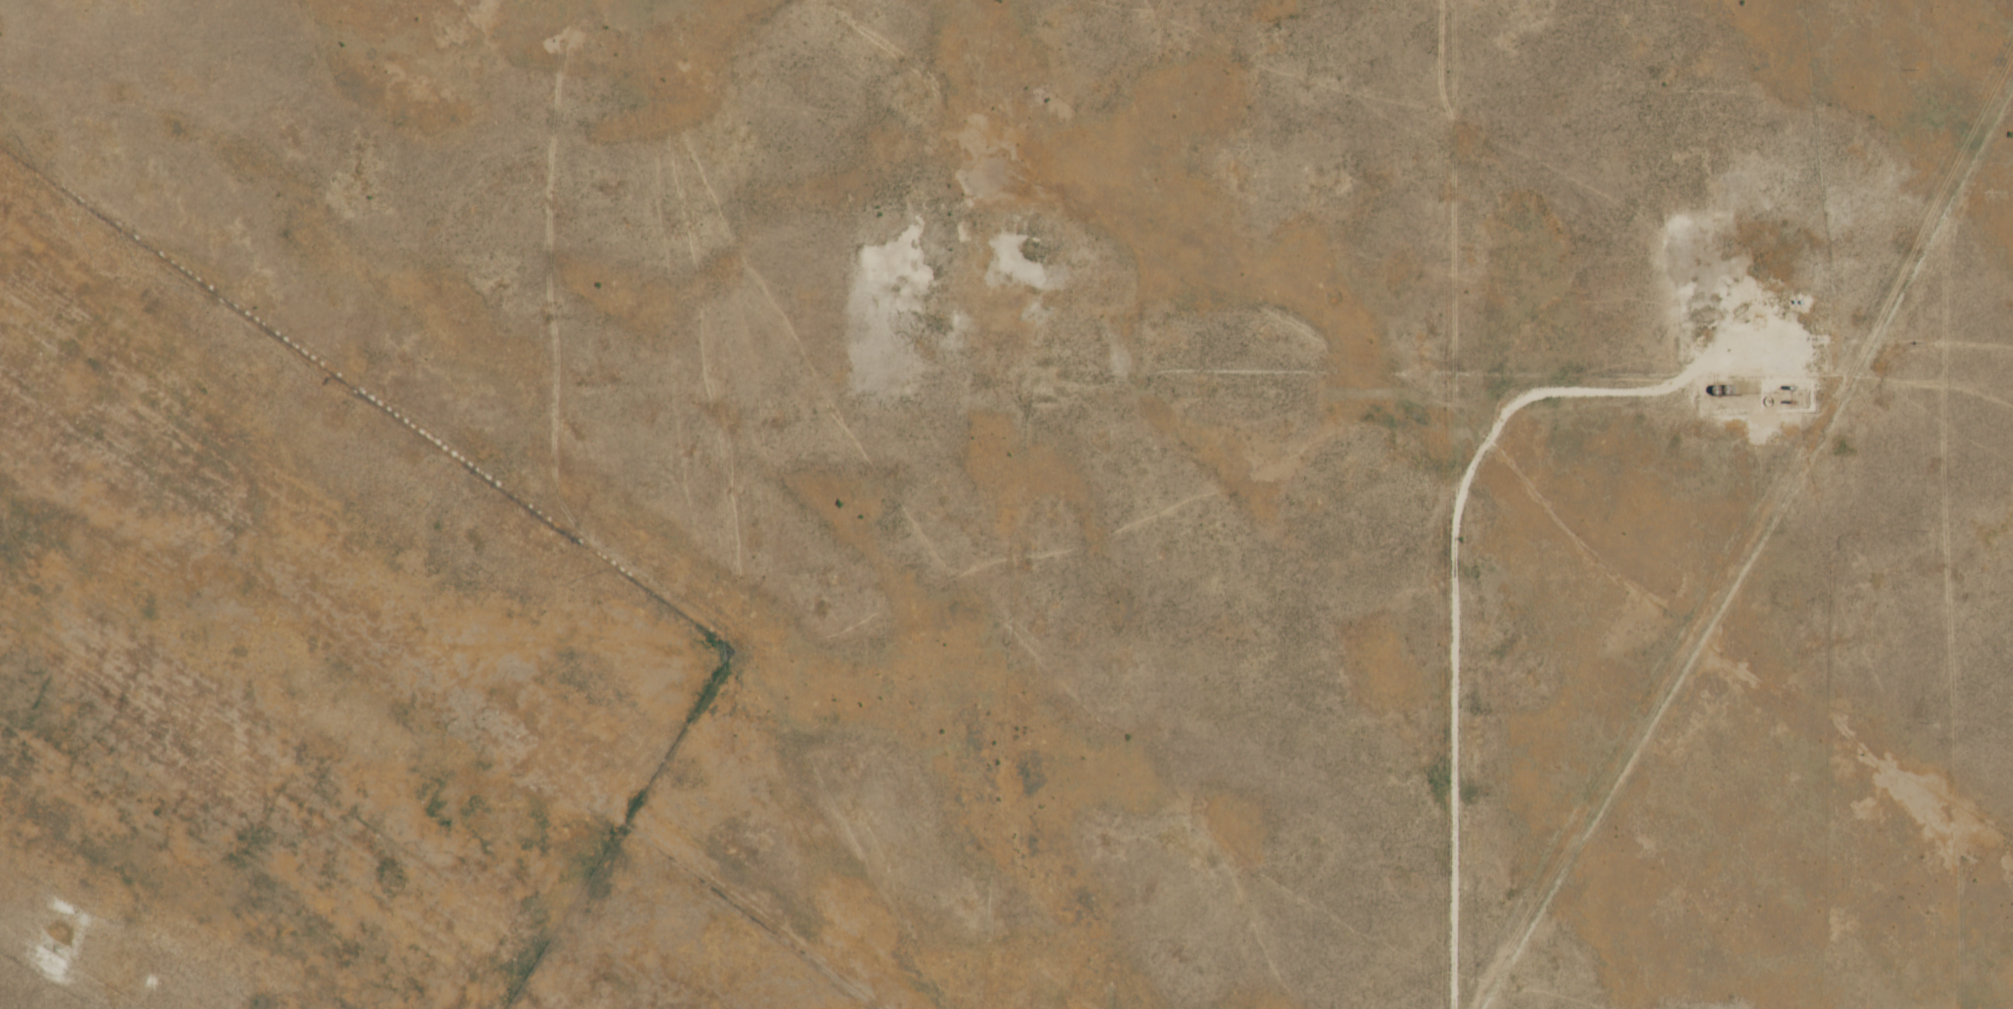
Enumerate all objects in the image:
road: (500, 683)

